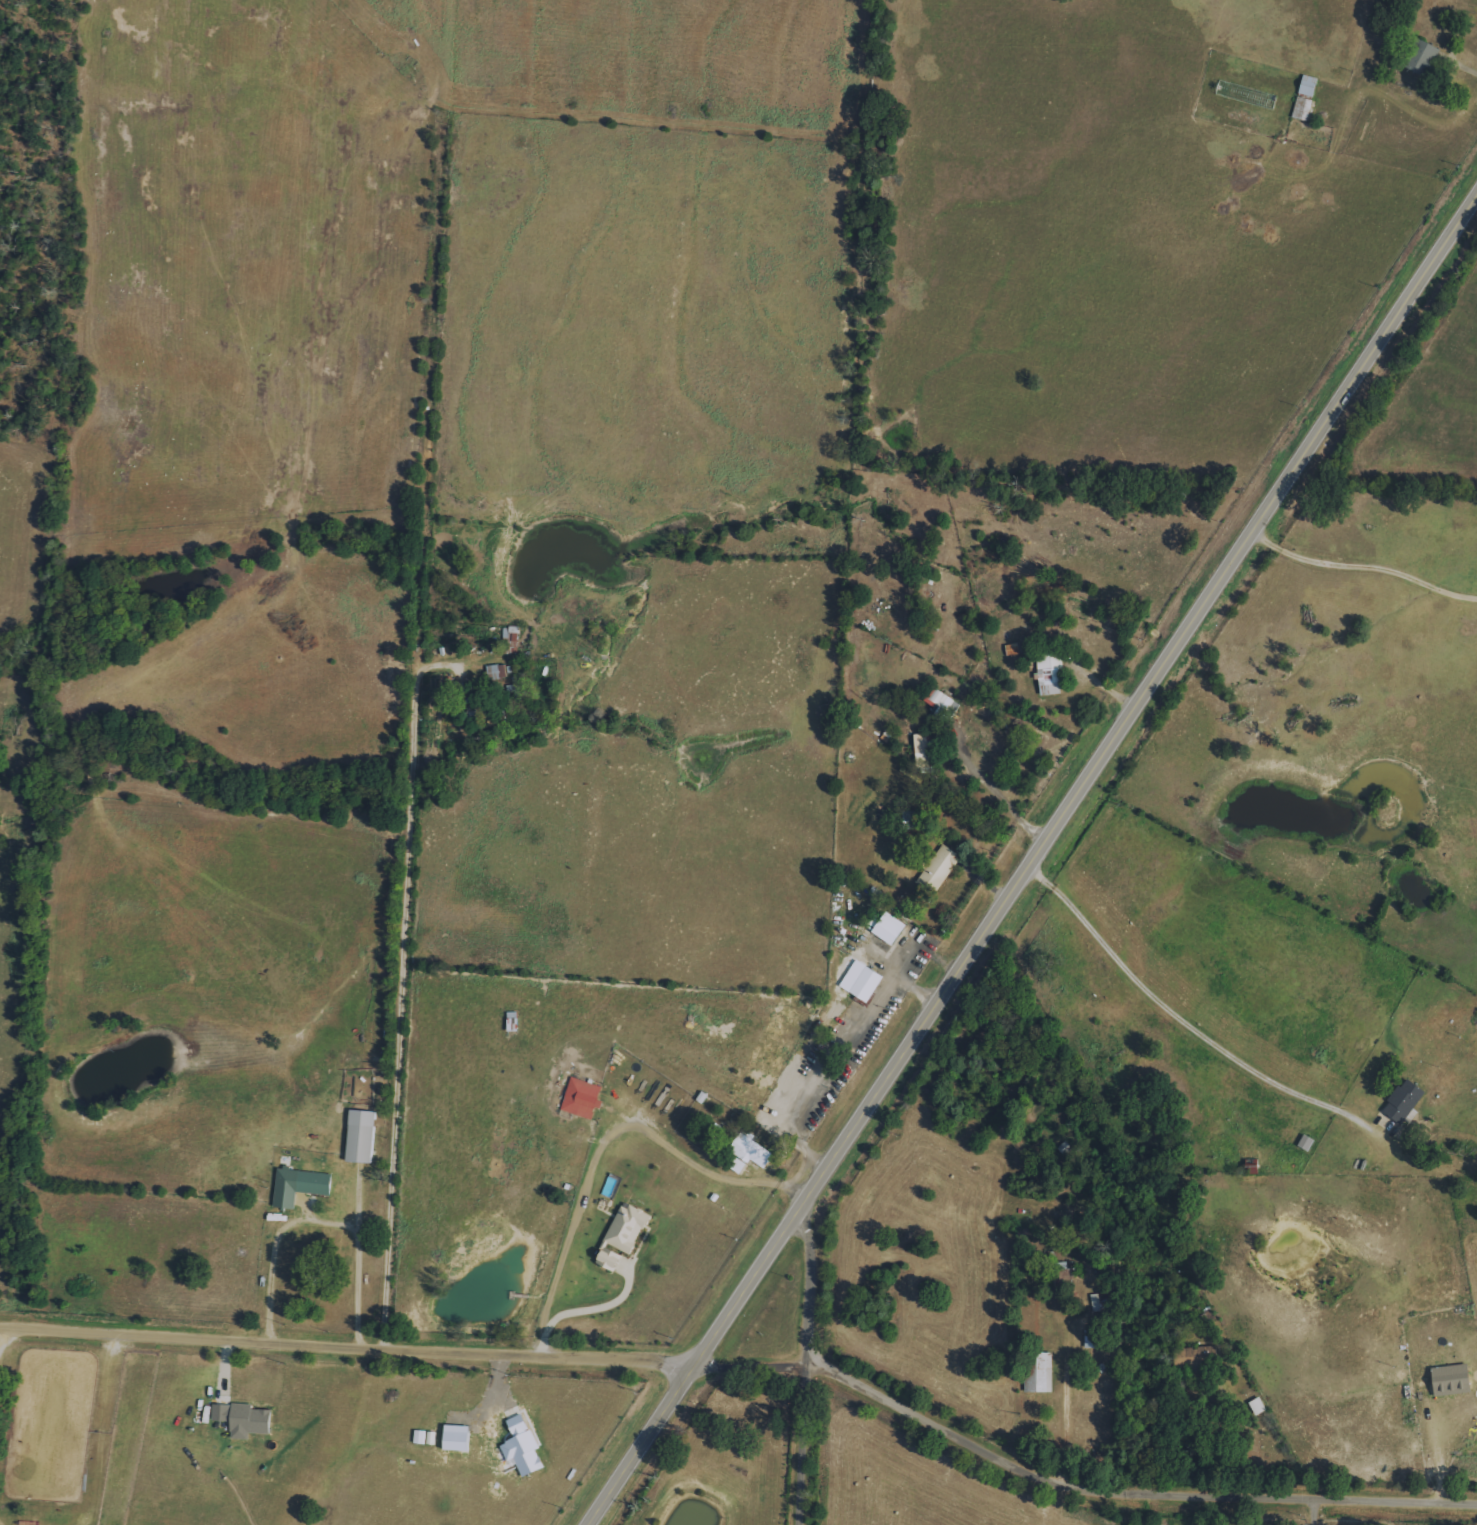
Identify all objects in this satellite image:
building: (1421, 57)
road: (1463, 67)
building: (1307, 86)
building: (1301, 109)
road: (1365, 565)
building: (496, 672)
building: (1048, 672)
road: (432, 677)
building: (940, 702)
building: (924, 753)
road: (1036, 862)
building: (865, 983)
road: (1176, 1017)
building: (580, 1098)
building: (1403, 1101)
building: (360, 1136)
road: (609, 1141)
building: (749, 1149)
building: (737, 1165)
building: (298, 1186)
road: (326, 1226)
building: (626, 1228)
building: (608, 1259)
road: (592, 1314)
road: (347, 1351)
building: (1186, 1357)
road: (810, 1364)
building: (1038, 1372)
building: (1451, 1380)
road: (1065, 1418)
building: (242, 1419)
building: (456, 1438)
building: (522, 1447)
road: (1444, 1464)
road: (1076, 1477)
road: (1311, 1512)
road: (1426, 1518)

